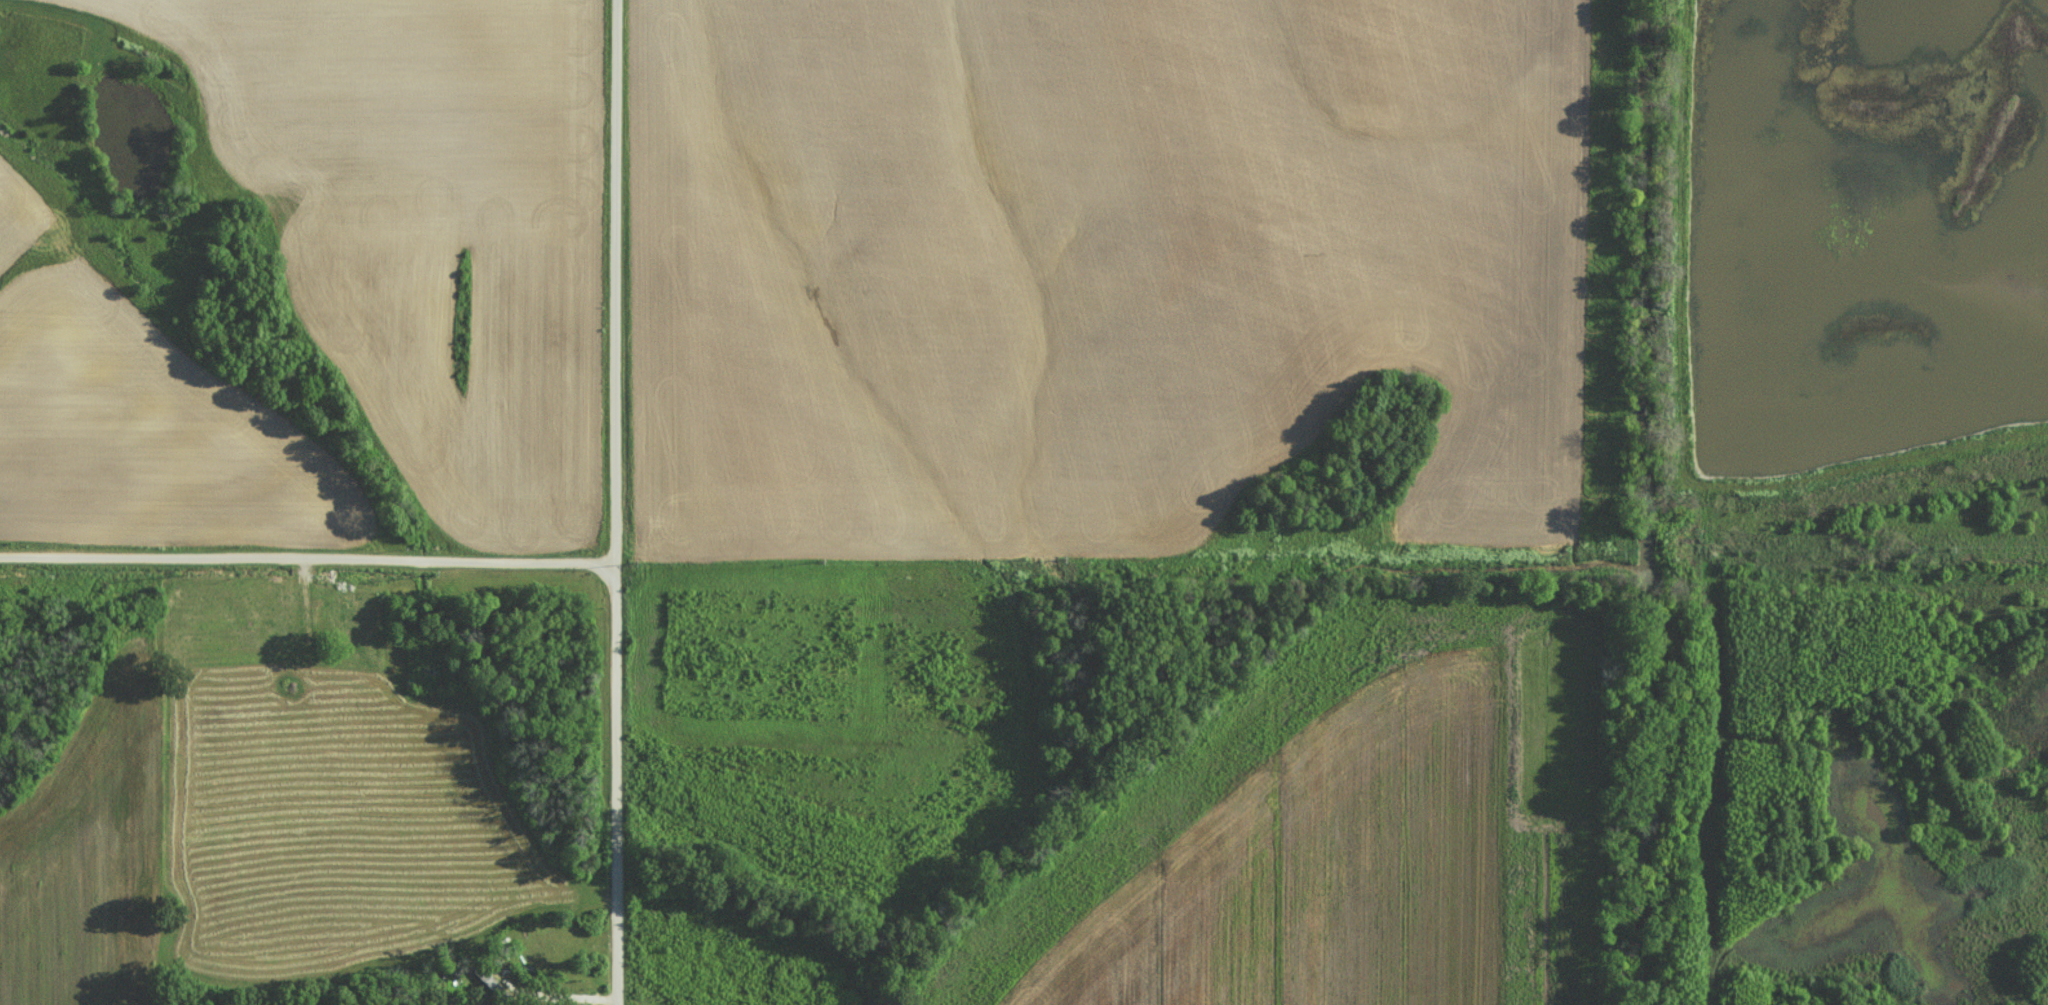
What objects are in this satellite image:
road: (617, 502)
road: (308, 561)

